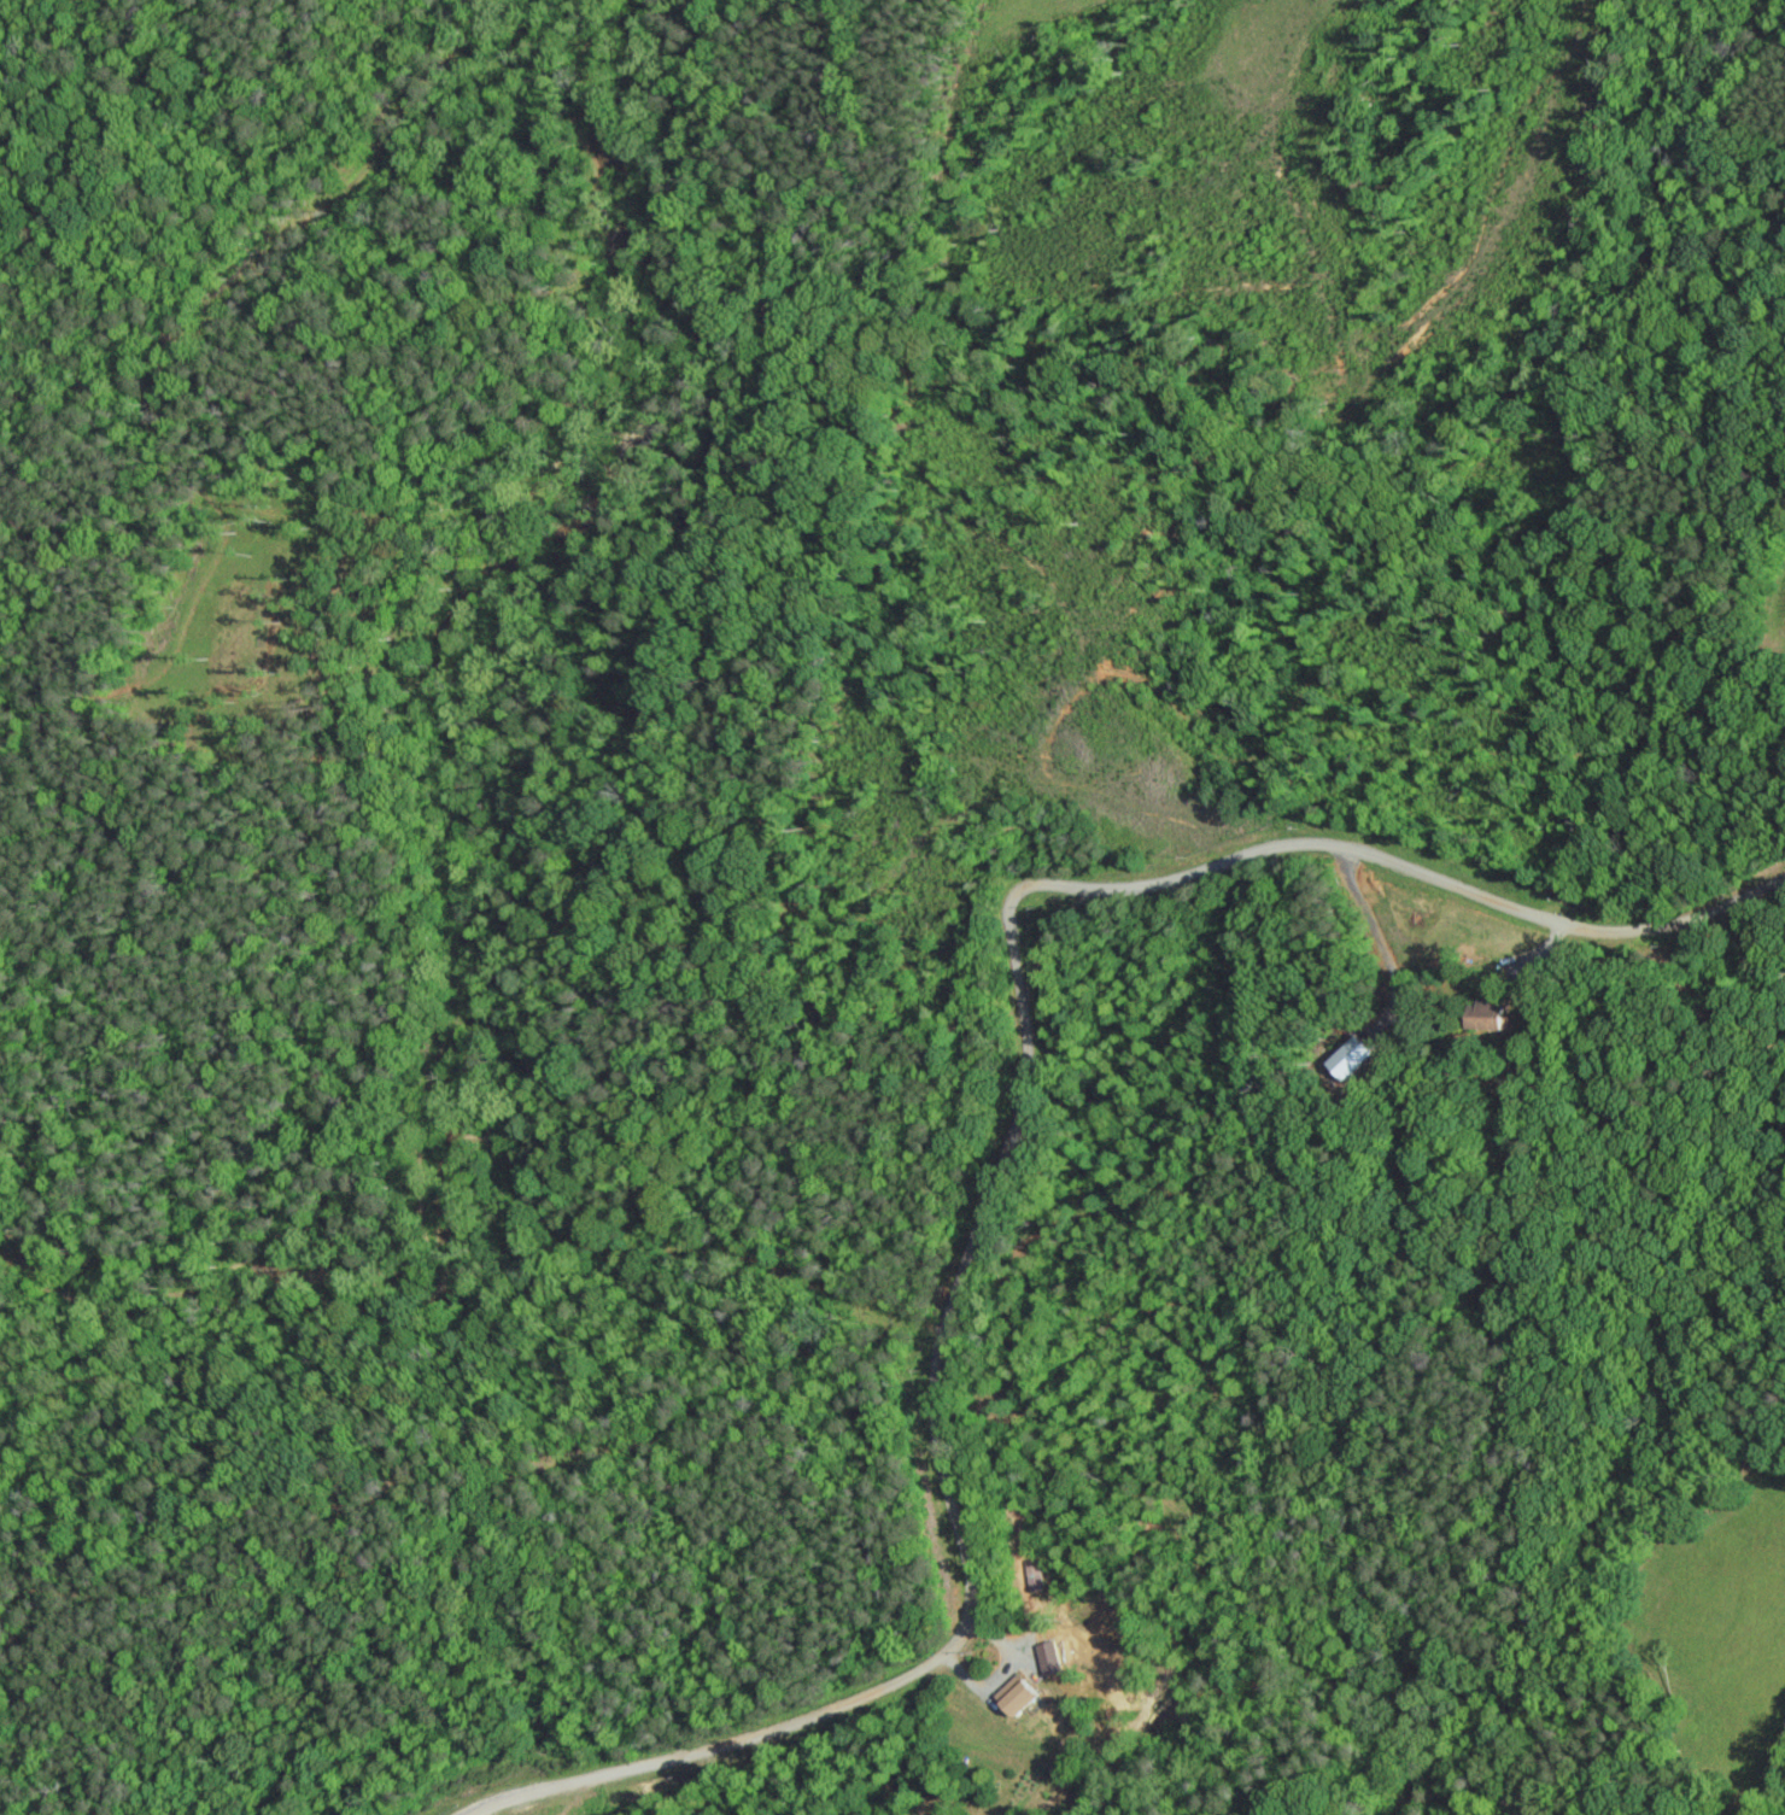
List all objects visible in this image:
road: (1000, 1148)
building: (1044, 1657)
building: (1013, 1699)

